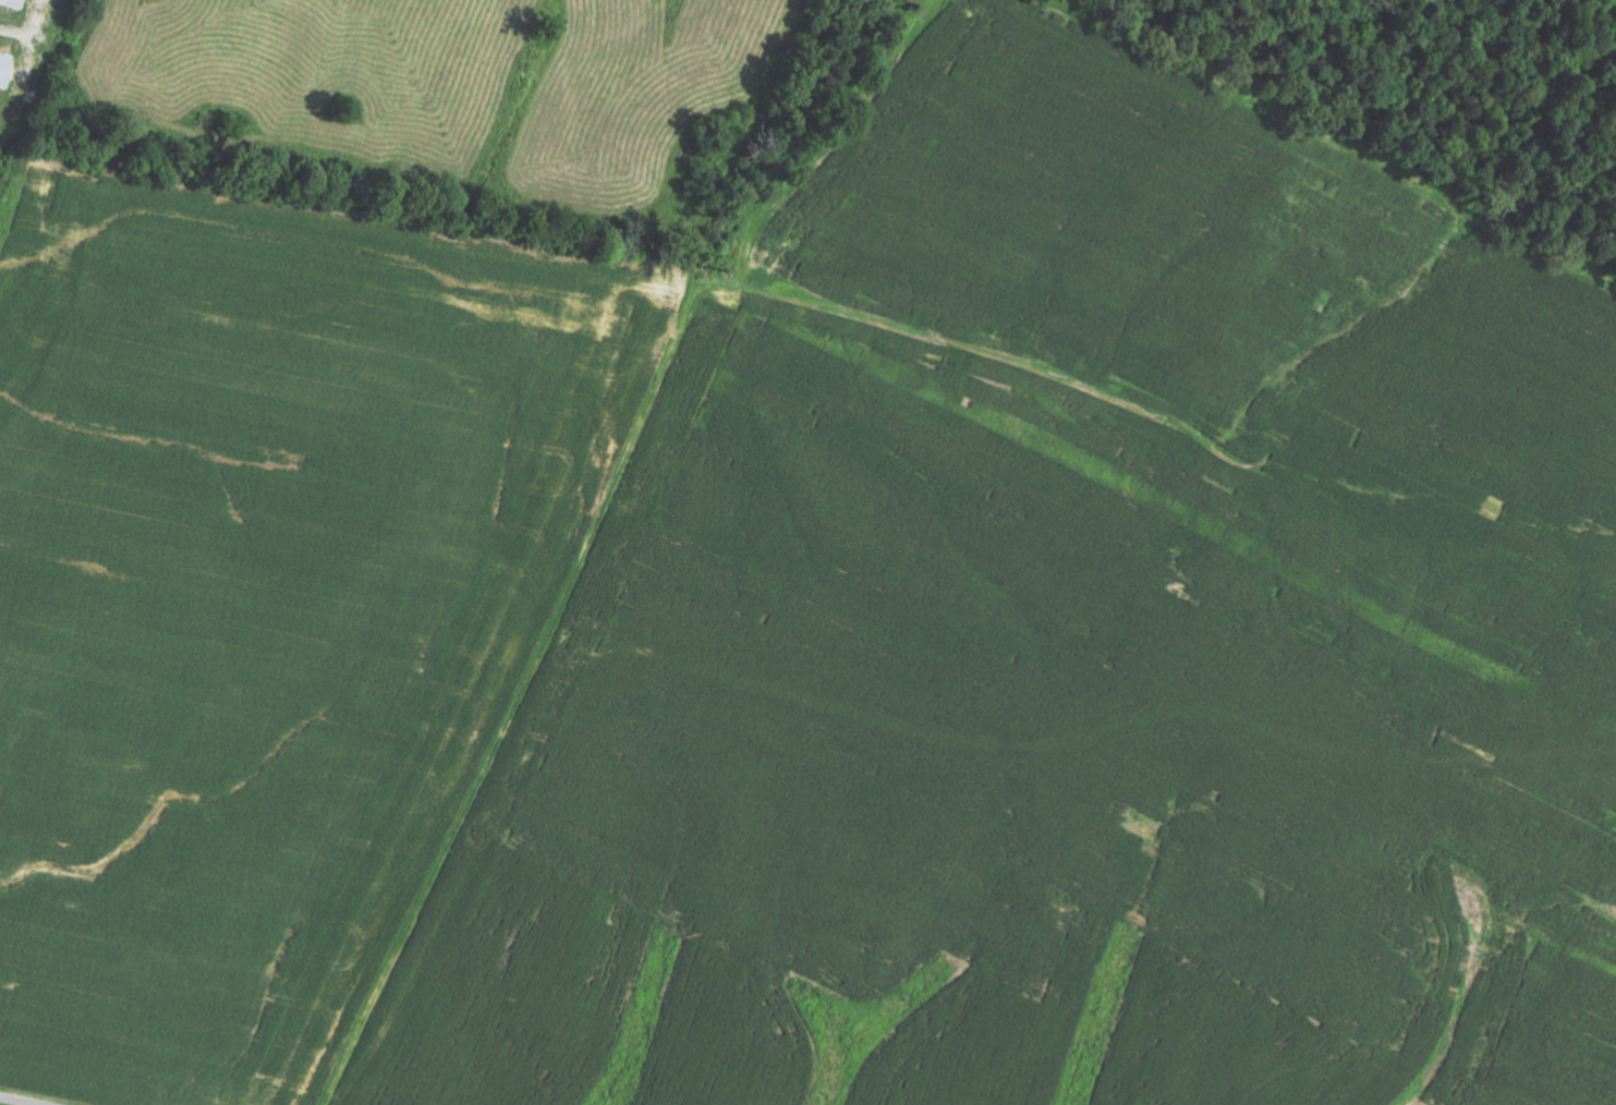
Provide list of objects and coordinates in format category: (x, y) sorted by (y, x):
building: (14, 3)
building: (7, 65)
road: (20, 1101)

